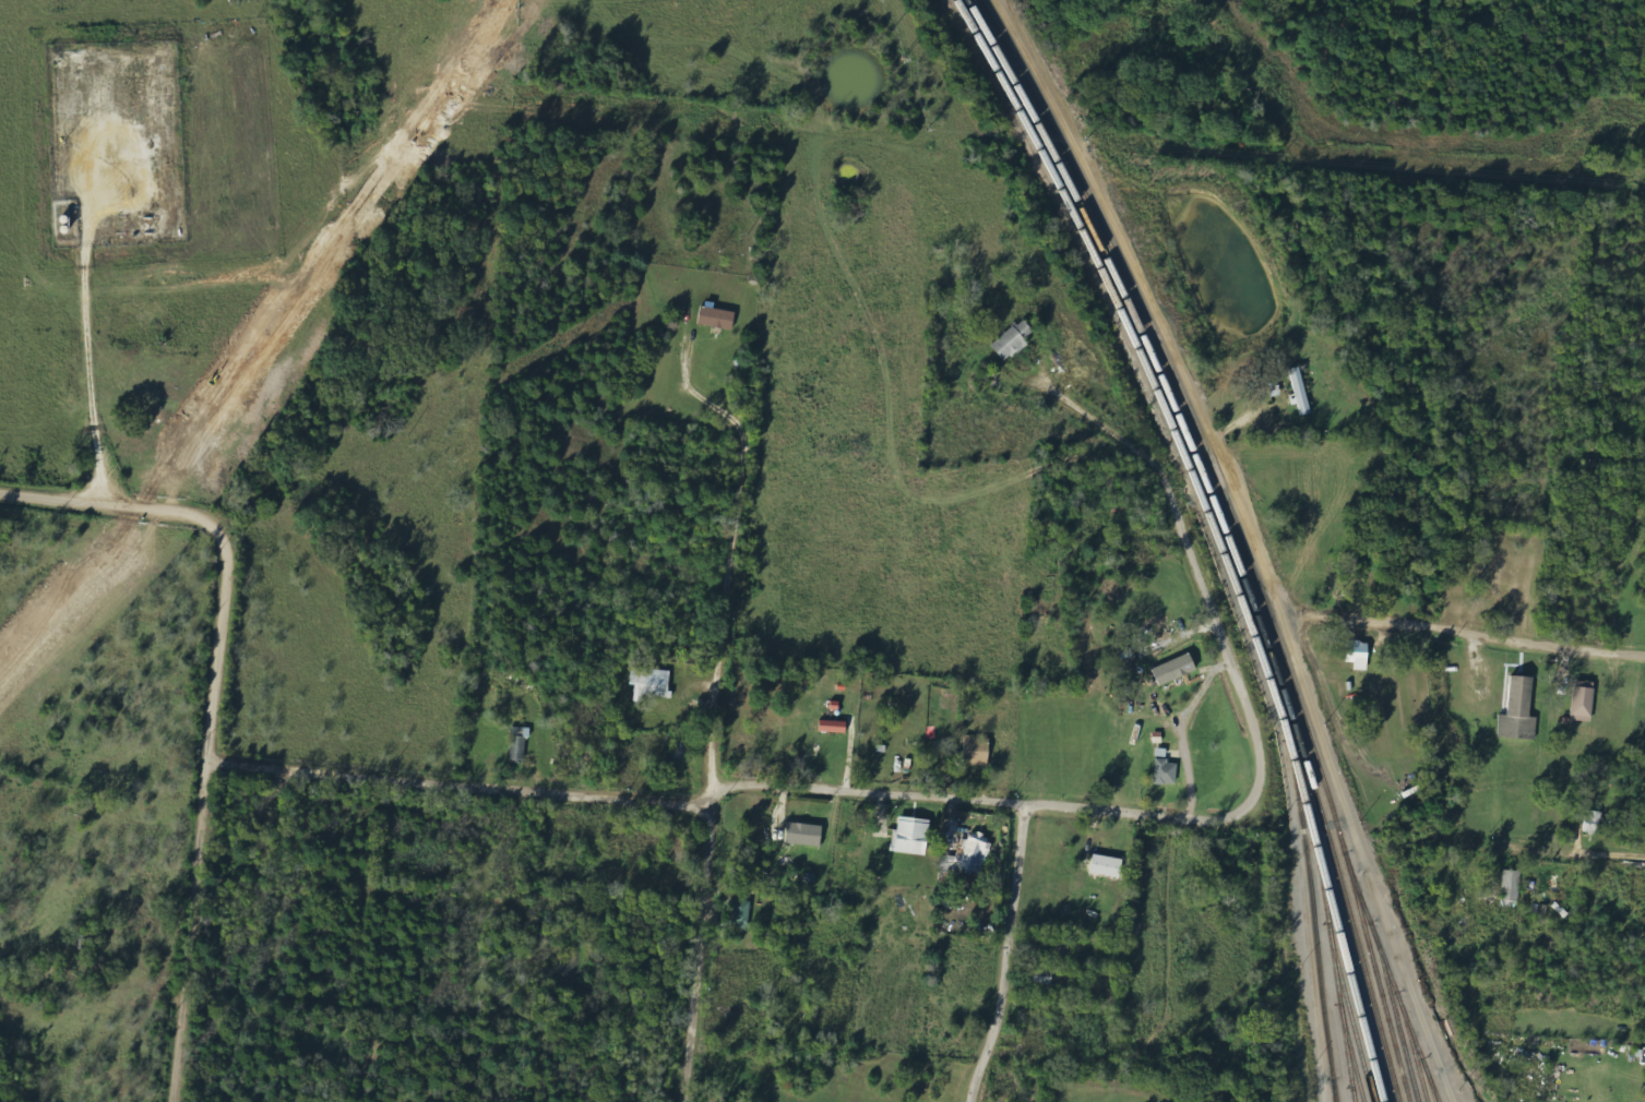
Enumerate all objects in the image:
building: (718, 319)
building: (1014, 340)
building: (1300, 391)
road: (1117, 434)
railway: (1214, 532)
railway: (1226, 534)
railway: (1237, 534)
road: (1392, 626)
building: (1359, 655)
building: (1177, 670)
building: (653, 683)
road: (214, 702)
building: (1584, 704)
building: (1521, 710)
building: (835, 727)
building: (520, 744)
building: (683, 751)
building: (977, 752)
road: (715, 763)
building: (1167, 772)
road: (917, 798)
building: (1596, 823)
building: (806, 835)
building: (913, 836)
building: (973, 855)
road: (1575, 859)
building: (1511, 886)
building: (962, 887)
building: (742, 914)
railway: (1313, 933)
road: (1004, 955)
building: (1045, 979)
railway: (1337, 980)
railway: (1388, 987)
road: (344, 1006)
railway: (1405, 1020)
railway: (1352, 1021)
railway: (1420, 1055)
railway: (1354, 1062)
railway: (1433, 1089)
railway: (1334, 1090)

